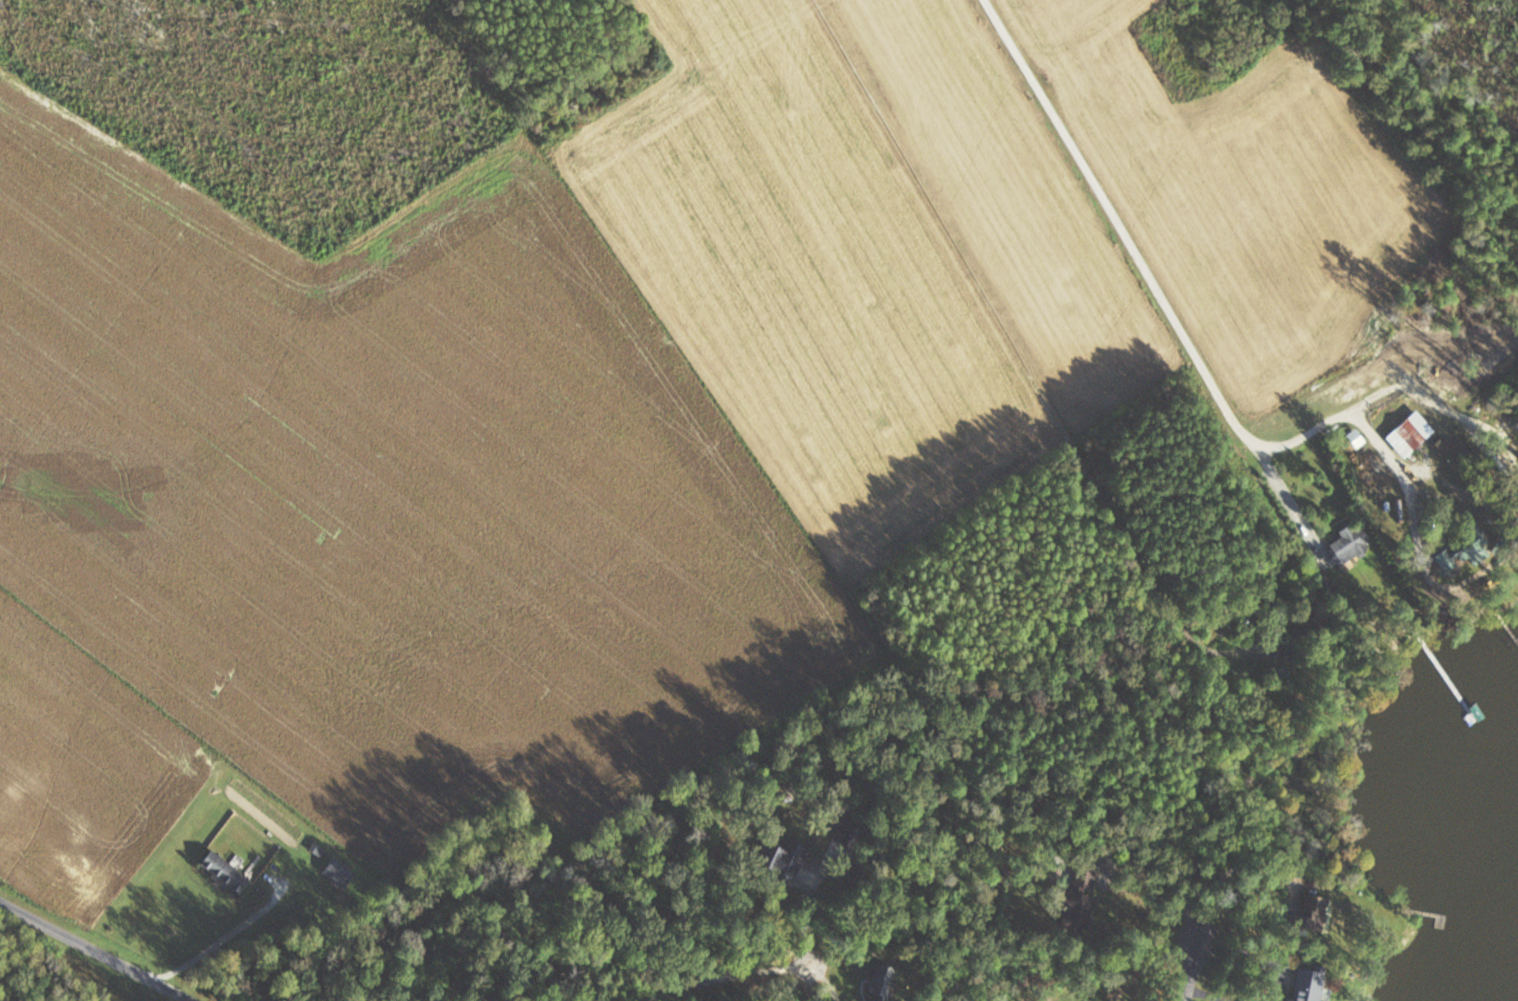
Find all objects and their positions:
road: (1162, 298)
building: (1406, 433)
road: (1373, 436)
building: (1516, 440)
road: (1282, 494)
building: (1345, 543)
building: (1458, 551)
building: (778, 862)
building: (219, 871)
road: (809, 911)
building: (1296, 922)
road: (111, 951)
road: (1196, 969)
road: (718, 975)
building: (876, 983)
building: (1306, 987)

